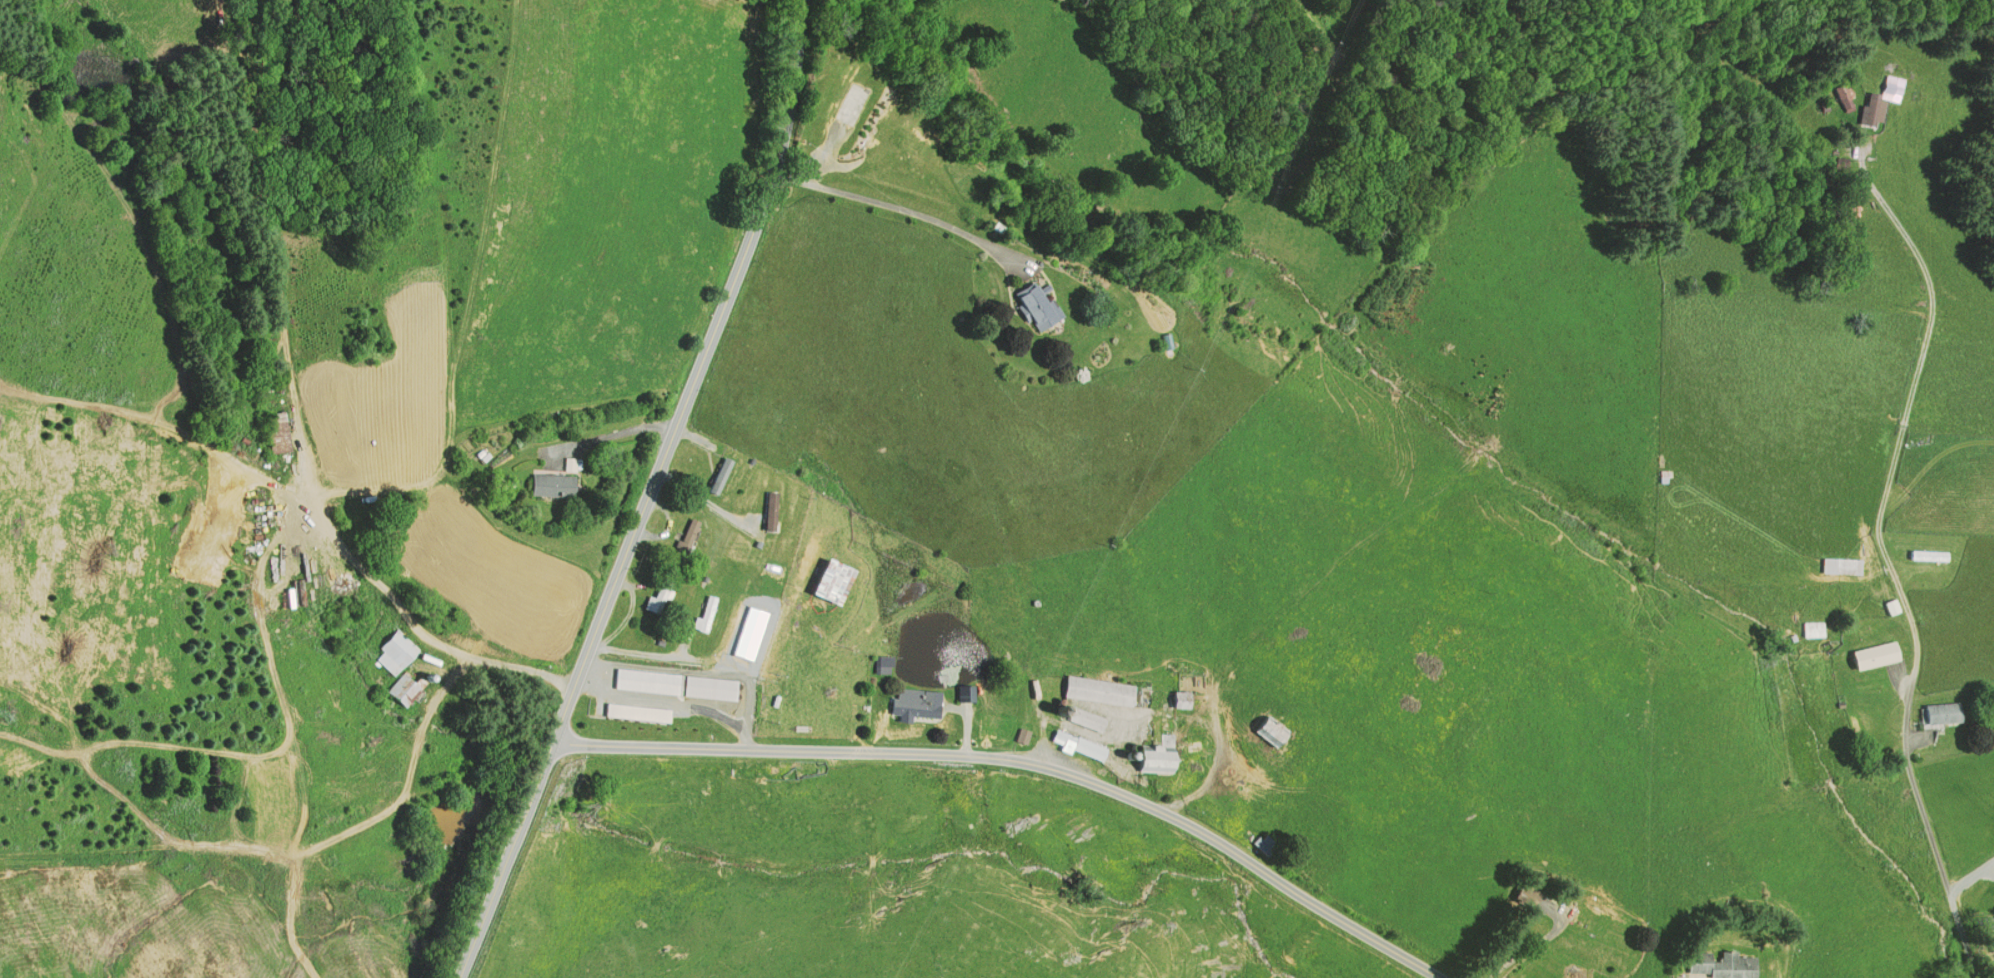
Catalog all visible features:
building: (865, 95)
building: (1867, 100)
building: (906, 135)
building: (1036, 305)
building: (284, 434)
building: (719, 475)
building: (727, 475)
building: (551, 485)
road: (649, 494)
building: (769, 509)
building: (778, 510)
building: (688, 534)
road: (1881, 548)
building: (1923, 556)
building: (1835, 567)
building: (830, 579)
building: (659, 595)
building: (706, 612)
building: (712, 614)
building: (1808, 630)
building: (747, 631)
building: (397, 652)
road: (658, 654)
building: (1869, 656)
building: (883, 663)
building: (647, 680)
building: (711, 687)
building: (1099, 689)
building: (966, 693)
building: (1181, 698)
building: (915, 702)
building: (637, 711)
building: (1937, 715)
building: (1086, 716)
building: (1270, 729)
building: (1022, 734)
building: (1079, 743)
building: (1154, 758)
road: (1022, 763)
building: (1266, 842)
road: (1971, 876)
building: (1516, 896)
building: (1582, 929)
building: (1989, 943)
building: (1715, 966)

